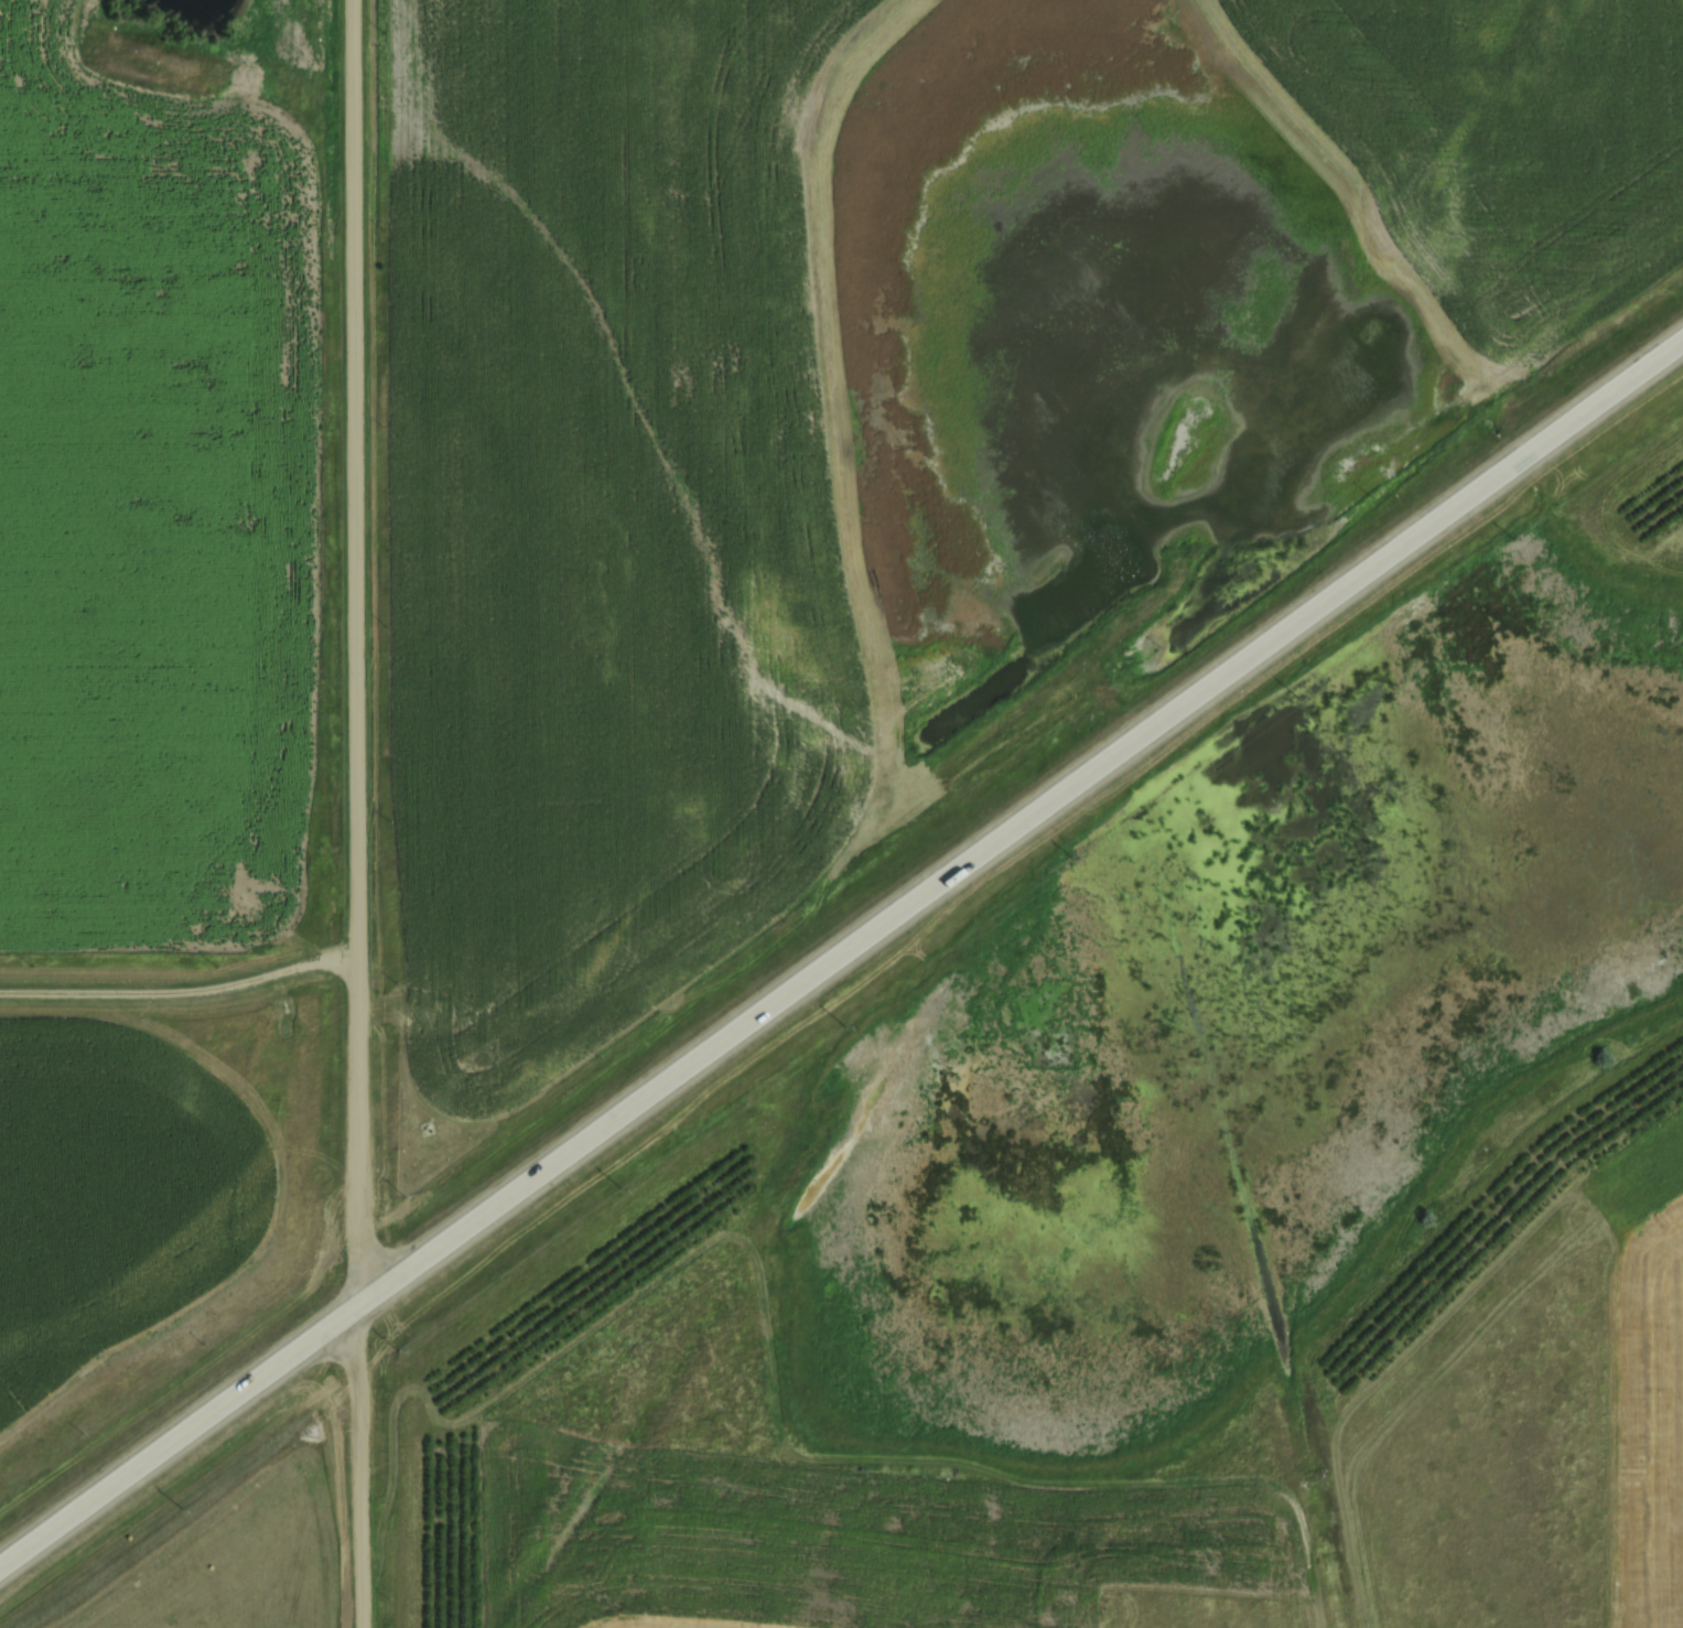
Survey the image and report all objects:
road: (358, 813)
road: (841, 956)

